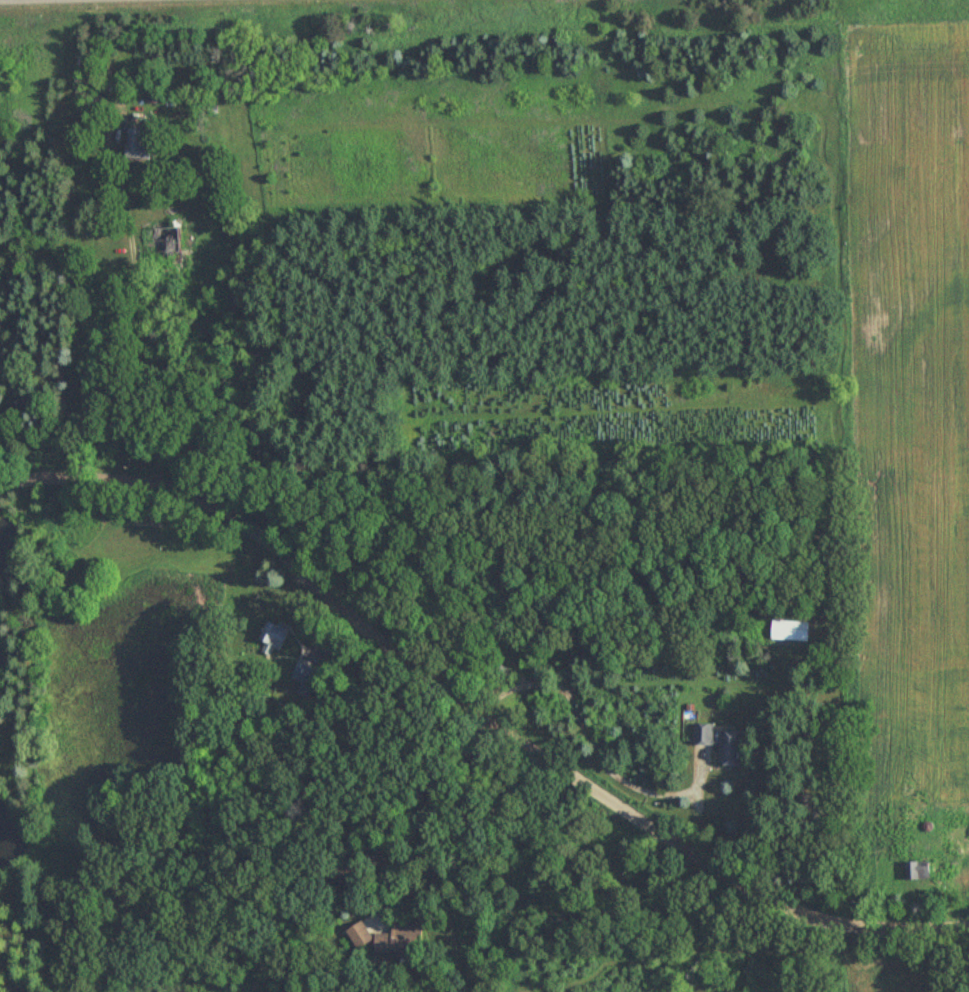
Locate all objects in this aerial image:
building: (136, 142)
building: (167, 244)
crop: (913, 340)
road: (12, 485)
building: (785, 625)
building: (273, 633)
building: (300, 672)
road: (477, 710)
building: (701, 732)
building: (727, 748)
road: (410, 804)
building: (357, 935)
building: (399, 938)
building: (380, 942)
crop: (895, 987)

